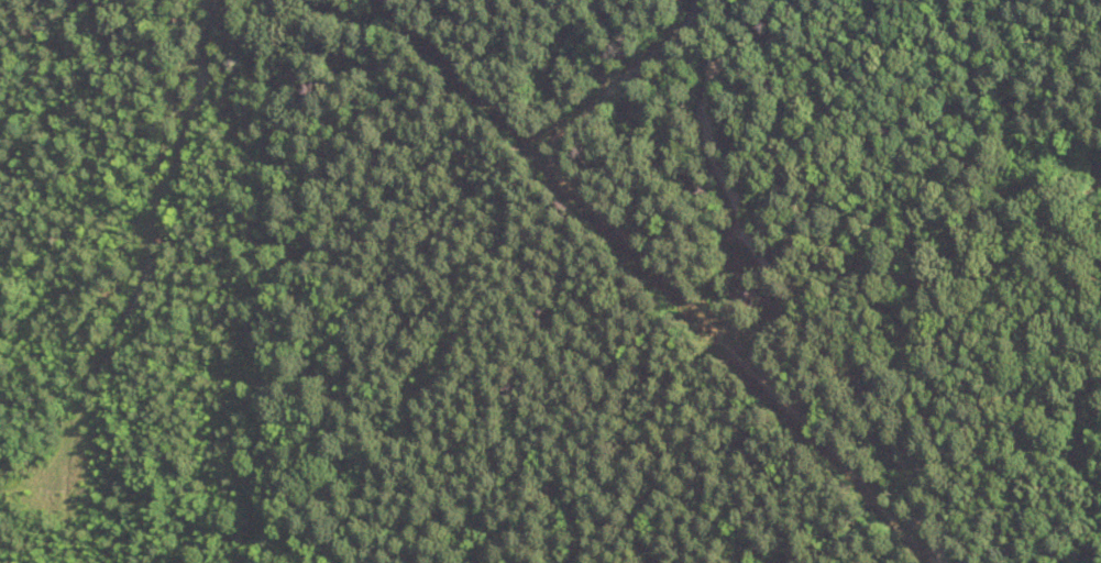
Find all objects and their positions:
road: (763, 271)

